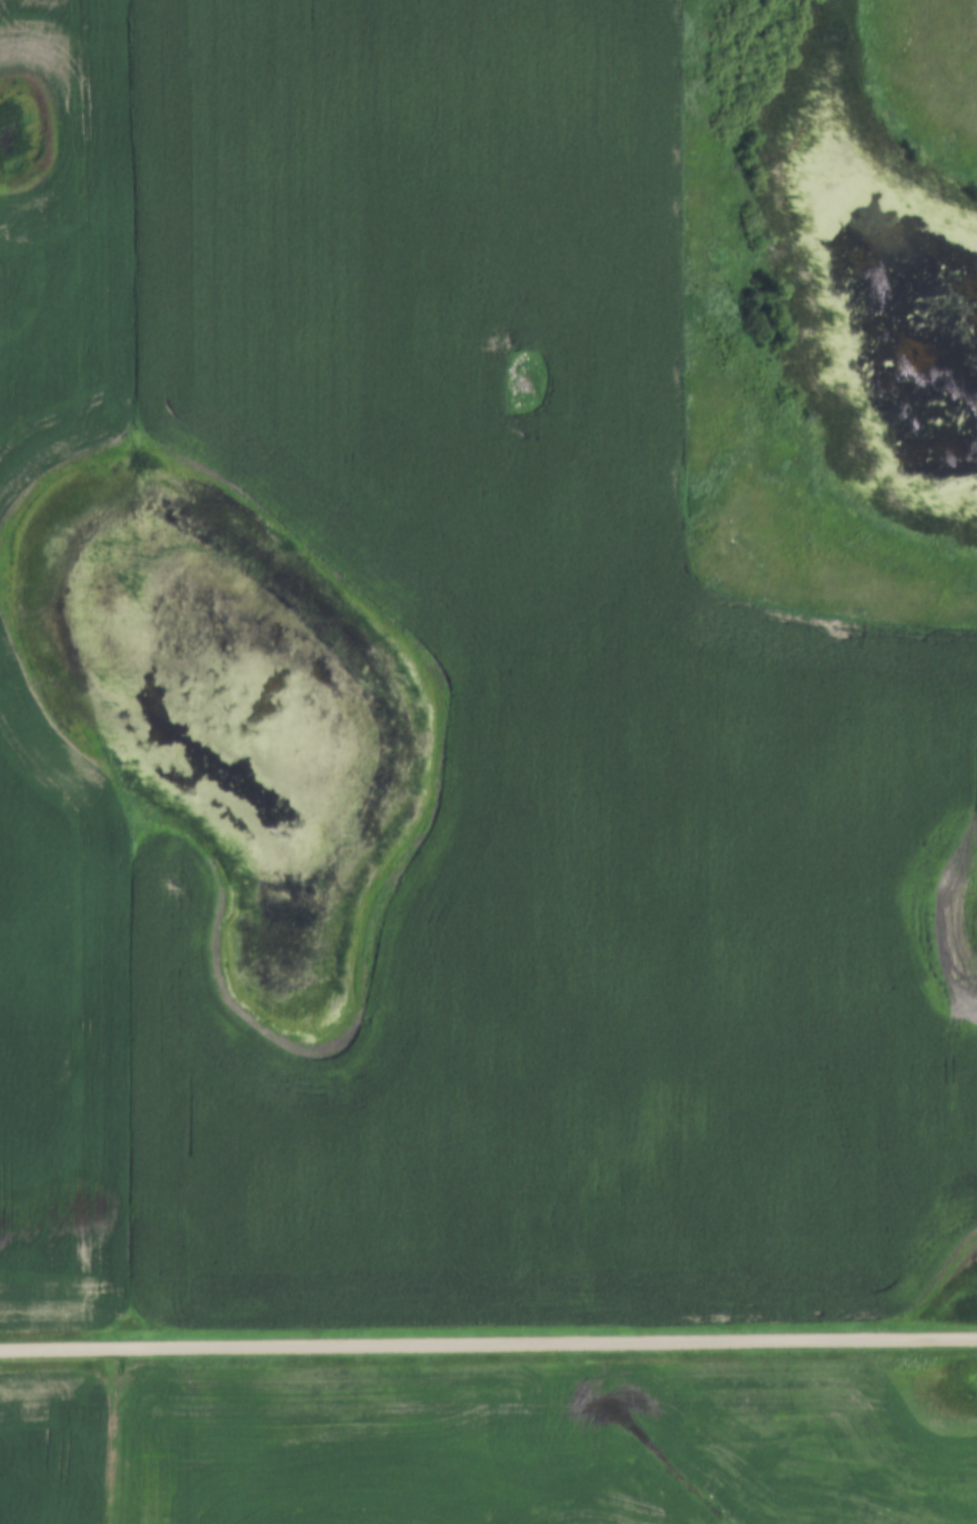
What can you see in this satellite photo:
road: (488, 1348)

